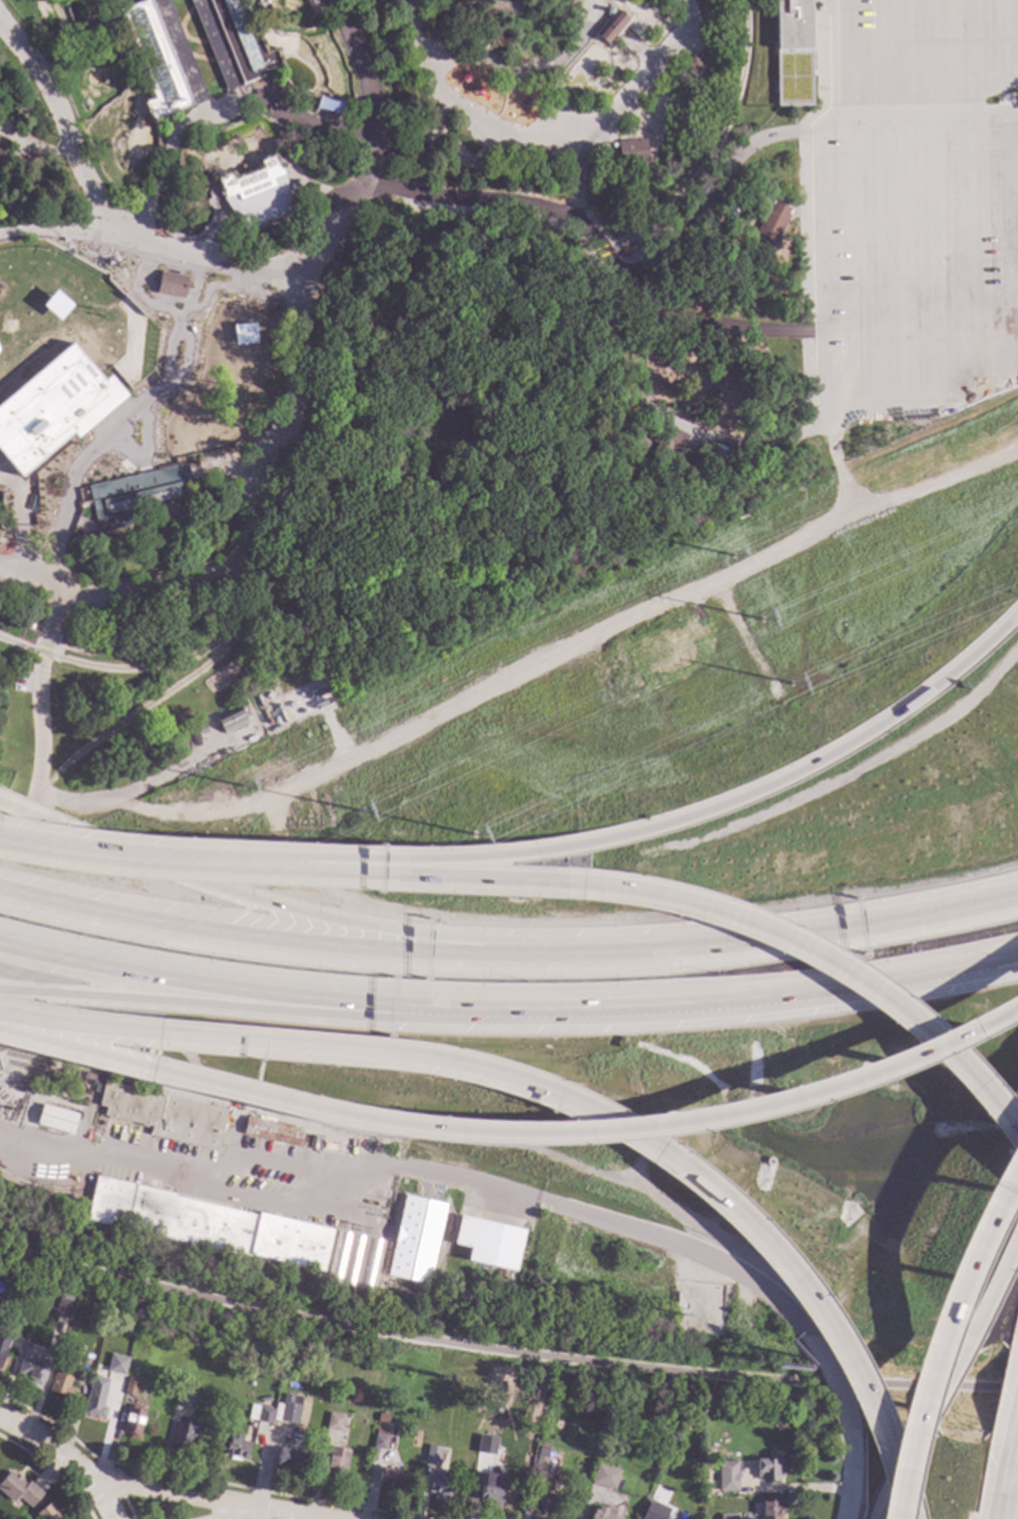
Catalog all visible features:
building: (261, 2)
road: (583, 4)
road: (318, 10)
road: (459, 10)
building: (610, 28)
road: (172, 36)
building: (52, 37)
building: (232, 42)
road: (1006, 42)
road: (218, 52)
building: (793, 52)
parking lot: (919, 53)
building: (158, 56)
road: (201, 58)
road: (181, 59)
building: (694, 65)
road: (524, 73)
road: (503, 103)
road: (559, 104)
road: (936, 110)
road: (992, 113)
road: (221, 114)
road: (415, 137)
building: (425, 140)
road: (545, 142)
building: (336, 143)
building: (112, 146)
building: (451, 149)
building: (2, 150)
road: (35, 150)
building: (631, 154)
building: (536, 156)
building: (381, 160)
building: (454, 168)
road: (577, 180)
road: (717, 191)
building: (255, 195)
road: (317, 196)
road: (969, 200)
road: (893, 208)
road: (932, 208)
road: (48, 221)
building: (773, 221)
road: (60, 235)
road: (212, 237)
road: (189, 241)
road: (1009, 248)
road: (599, 250)
parking lot: (915, 263)
road: (858, 264)
road: (233, 271)
building: (171, 284)
road: (212, 286)
road: (151, 291)
road: (191, 294)
road: (822, 303)
building: (56, 306)
building: (243, 335)
road: (186, 351)
railway: (391, 366)
road: (150, 398)
building: (52, 409)
road: (124, 421)
road: (689, 431)
building: (295, 435)
building: (666, 443)
road: (838, 467)
road: (656, 468)
road: (223, 470)
building: (134, 494)
building: (578, 495)
road: (61, 529)
road: (250, 538)
power tower: (733, 555)
power tower: (763, 620)
building: (74, 641)
building: (54, 651)
road: (573, 655)
power tower: (791, 684)
road: (39, 695)
railway: (143, 707)
building: (230, 720)
building: (202, 729)
road: (150, 786)
power tower: (242, 788)
power tower: (360, 811)
road: (648, 828)
power tower: (473, 834)
road: (107, 859)
road: (586, 888)
road: (247, 898)
road: (251, 936)
road: (764, 938)
road: (192, 983)
road: (193, 1001)
road: (704, 1001)
road: (348, 1050)
building: (87, 1077)
building: (100, 1081)
road: (974, 1083)
building: (164, 1115)
building: (56, 1119)
building: (272, 1132)
road: (514, 1135)
building: (328, 1148)
road: (370, 1173)
railway: (43, 1190)
railway: (42, 1198)
railway: (204, 1223)
building: (209, 1224)
road: (753, 1230)
building: (415, 1240)
railway: (201, 1241)
building: (488, 1243)
building: (354, 1261)
road: (997, 1285)
building: (678, 1299)
building: (0, 1300)
road: (776, 1303)
building: (64, 1306)
building: (1, 1324)
road: (939, 1334)
building: (3, 1347)
building: (123, 1347)
road: (504, 1349)
building: (70, 1350)
building: (294, 1357)
building: (117, 1365)
building: (33, 1371)
road: (953, 1371)
building: (97, 1372)
building: (61, 1381)
road: (831, 1386)
building: (130, 1387)
building: (184, 1398)
building: (265, 1398)
building: (94, 1404)
road: (872, 1406)
building: (289, 1409)
building: (260, 1414)
building: (382, 1416)
building: (133, 1422)
building: (333, 1422)
road: (1012, 1424)
building: (185, 1434)
building: (379, 1440)
building: (235, 1446)
building: (480, 1450)
building: (542, 1450)
building: (621, 1454)
building: (286, 1457)
building: (431, 1457)
building: (335, 1463)
building: (539, 1465)
road: (903, 1467)
building: (768, 1470)
building: (727, 1476)
road: (849, 1477)
building: (389, 1478)
building: (604, 1478)
road: (1001, 1484)
building: (439, 1486)
road: (142, 1487)
building: (18, 1489)
building: (489, 1491)
road: (112, 1499)
building: (544, 1502)
building: (654, 1502)
building: (769, 1509)
building: (49, 1513)
building: (652, 1513)
building: (600, 1514)
road: (906, 1514)
road: (246, 1515)
building: (727, 1517)

